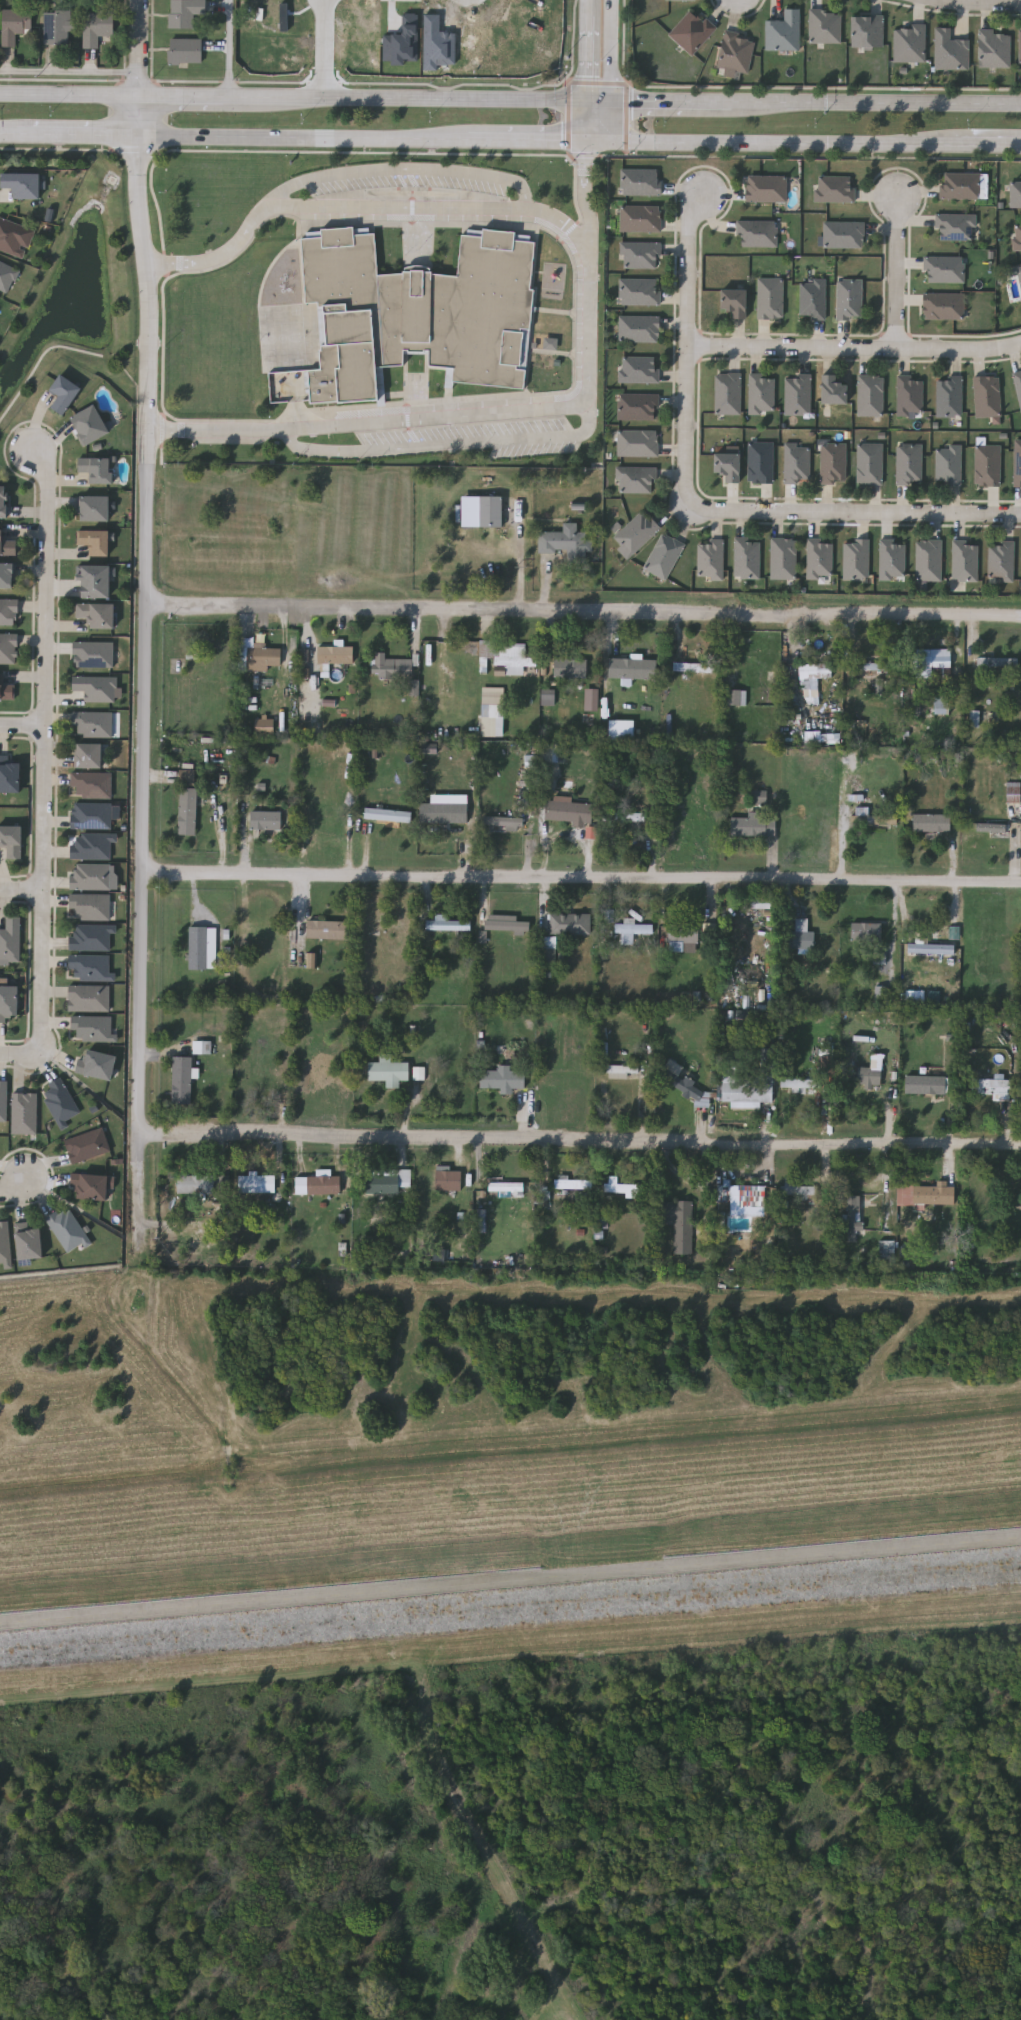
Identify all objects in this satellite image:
building: (681, 0)
road: (975, 5)
road: (590, 8)
building: (185, 12)
building: (285, 17)
building: (15, 22)
building: (96, 24)
building: (56, 26)
building: (826, 27)
building: (692, 32)
building: (784, 32)
building: (868, 32)
building: (404, 42)
building: (910, 44)
road: (140, 47)
road: (229, 47)
building: (1020, 47)
road: (328, 48)
building: (995, 48)
building: (184, 49)
road: (616, 49)
building: (951, 51)
building: (736, 52)
road: (589, 57)
road: (69, 93)
road: (181, 94)
road: (406, 96)
traffic signals: (589, 98)
road: (602, 98)
traffic signals: (616, 99)
road: (675, 99)
road: (877, 101)
road: (139, 115)
road: (588, 117)
road: (615, 118)
road: (7, 135)
road: (77, 136)
road: (304, 136)
road: (528, 136)
traffic signals: (587, 136)
road: (600, 136)
traffic signals: (614, 137)
road: (788, 139)
road: (992, 141)
road: (359, 168)
building: (641, 181)
building: (23, 184)
road: (587, 185)
building: (960, 185)
building: (765, 188)
building: (835, 189)
building: (1015, 194)
road: (401, 204)
building: (640, 218)
building: (955, 226)
building: (756, 233)
building: (843, 234)
building: (1017, 235)
building: (14, 236)
building: (640, 254)
building: (943, 269)
road: (898, 273)
building: (1019, 273)
building: (7, 275)
building: (639, 290)
building: (769, 297)
building: (812, 298)
building: (849, 298)
building: (732, 301)
building: (942, 305)
building: (416, 311)
building: (638, 328)
road: (854, 348)
road: (687, 350)
building: (639, 368)
building: (1018, 384)
building: (831, 388)
building: (65, 392)
building: (727, 392)
building: (761, 392)
building: (797, 393)
building: (870, 394)
building: (909, 394)
building: (986, 395)
building: (948, 396)
building: (638, 405)
road: (448, 414)
building: (91, 424)
building: (638, 442)
road: (442, 445)
building: (760, 462)
building: (833, 462)
building: (797, 463)
building: (869, 463)
building: (909, 463)
building: (986, 464)
building: (726, 465)
building: (948, 465)
building: (1018, 465)
building: (97, 469)
building: (635, 479)
building: (4, 502)
building: (93, 508)
building: (492, 512)
road: (857, 515)
building: (636, 532)
building: (95, 541)
building: (565, 542)
building: (7, 544)
building: (663, 556)
building: (747, 558)
building: (783, 558)
building: (819, 559)
building: (855, 559)
building: (892, 559)
building: (710, 560)
building: (928, 560)
building: (965, 560)
building: (1000, 560)
building: (8, 575)
building: (96, 581)
road: (583, 609)
building: (9, 611)
building: (98, 614)
building: (8, 648)
building: (505, 651)
building: (336, 653)
building: (93, 654)
building: (265, 656)
building: (930, 660)
building: (997, 660)
building: (387, 666)
building: (696, 666)
building: (876, 666)
building: (570, 667)
building: (631, 667)
building: (813, 676)
building: (880, 686)
building: (95, 687)
building: (415, 688)
building: (6, 689)
road: (146, 696)
building: (736, 696)
building: (549, 697)
building: (592, 700)
building: (942, 705)
building: (491, 713)
building: (975, 719)
building: (93, 723)
road: (23, 725)
building: (265, 726)
building: (619, 729)
building: (416, 730)
building: (798, 730)
road: (45, 750)
building: (550, 753)
building: (89, 755)
building: (531, 761)
building: (9, 775)
building: (188, 778)
building: (92, 784)
building: (1014, 792)
building: (758, 797)
building: (190, 810)
building: (567, 810)
building: (443, 812)
building: (387, 814)
building: (91, 815)
building: (625, 817)
building: (270, 819)
building: (879, 819)
building: (502, 821)
building: (931, 821)
building: (752, 826)
building: (991, 829)
building: (592, 833)
building: (12, 840)
building: (92, 846)
building: (92, 876)
road: (583, 877)
road: (21, 889)
building: (761, 903)
building: (91, 906)
building: (608, 916)
building: (506, 923)
building: (570, 923)
building: (451, 924)
building: (632, 926)
building: (331, 928)
road: (895, 928)
building: (683, 932)
building: (866, 932)
building: (801, 935)
building: (91, 937)
building: (11, 939)
building: (205, 947)
building: (931, 949)
building: (548, 950)
building: (881, 959)
building: (313, 961)
building: (91, 967)
building: (882, 994)
building: (916, 997)
building: (89, 998)
building: (9, 1002)
building: (92, 1028)
building: (203, 1047)
road: (18, 1055)
building: (98, 1065)
building: (391, 1070)
building: (620, 1070)
building: (868, 1075)
building: (502, 1078)
building: (185, 1079)
building: (683, 1083)
building: (752, 1083)
building: (798, 1083)
building: (925, 1084)
building: (260, 1085)
building: (991, 1088)
building: (3, 1101)
building: (61, 1103)
building: (25, 1113)
road: (579, 1140)
building: (87, 1145)
building: (389, 1179)
building: (447, 1179)
building: (572, 1182)
building: (198, 1183)
building: (260, 1183)
building: (327, 1184)
building: (507, 1185)
road: (14, 1186)
building: (90, 1186)
building: (622, 1186)
building: (743, 1190)
building: (799, 1192)
building: (926, 1195)
building: (546, 1196)
building: (854, 1214)
building: (483, 1219)
building: (679, 1222)
building: (67, 1228)
building: (29, 1242)
building: (5, 1243)
building: (888, 1250)
building: (439, 1254)
road: (510, 1580)
park: (531, 1841)

